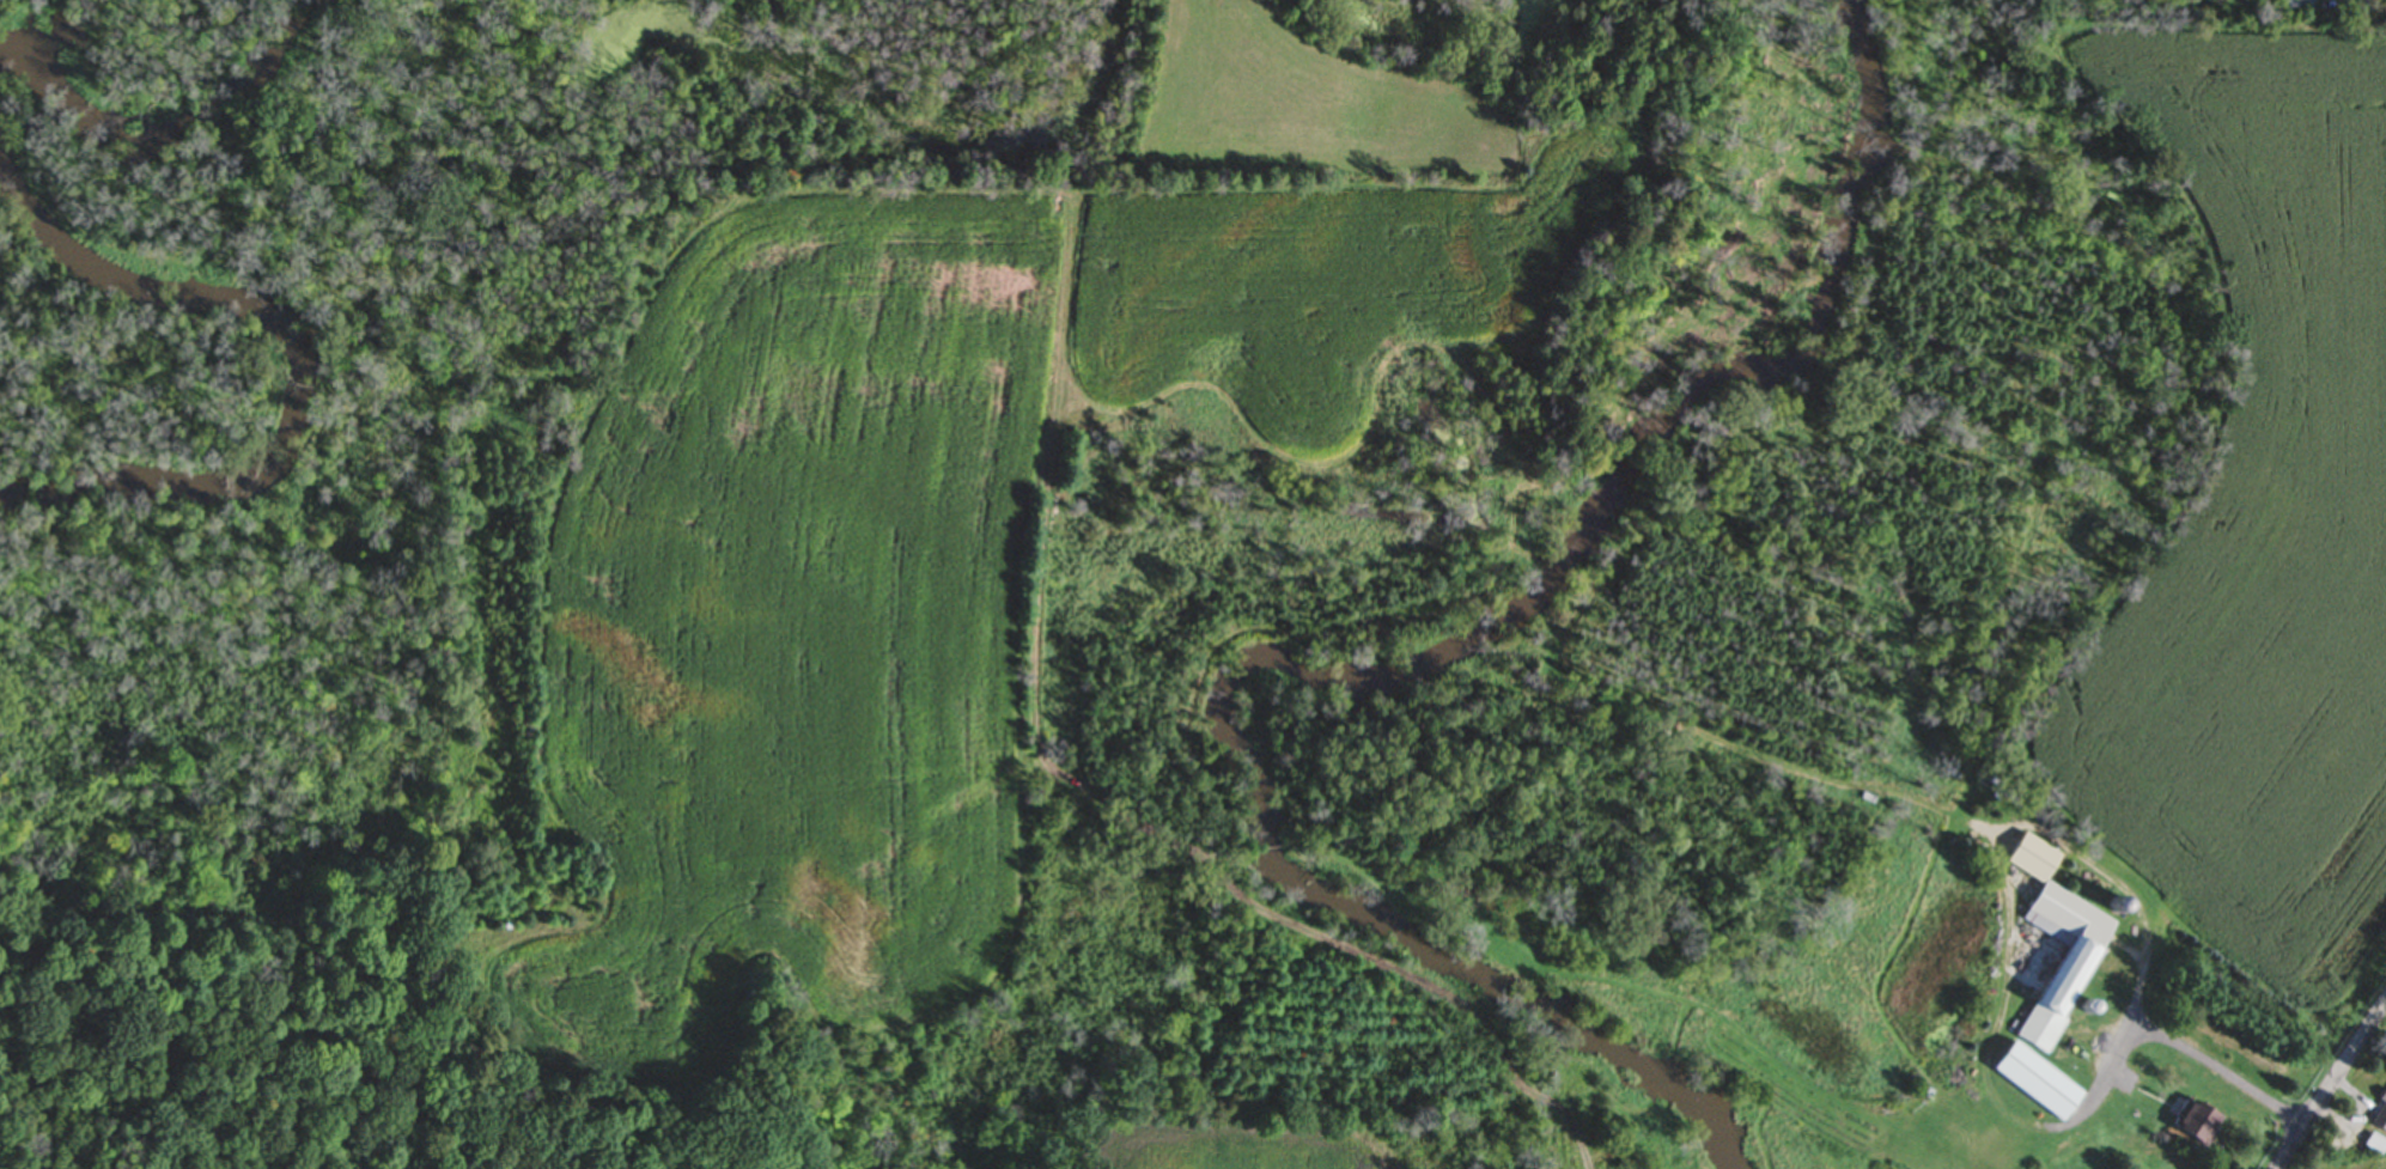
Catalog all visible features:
building: (2291, 5)
river: (174, 122)
river: (302, 359)
river: (1394, 674)
building: (2058, 980)
road: (2216, 1072)
building: (2029, 1082)
road: (2331, 1082)
building: (2378, 1118)
building: (2190, 1125)
building: (2368, 1145)

